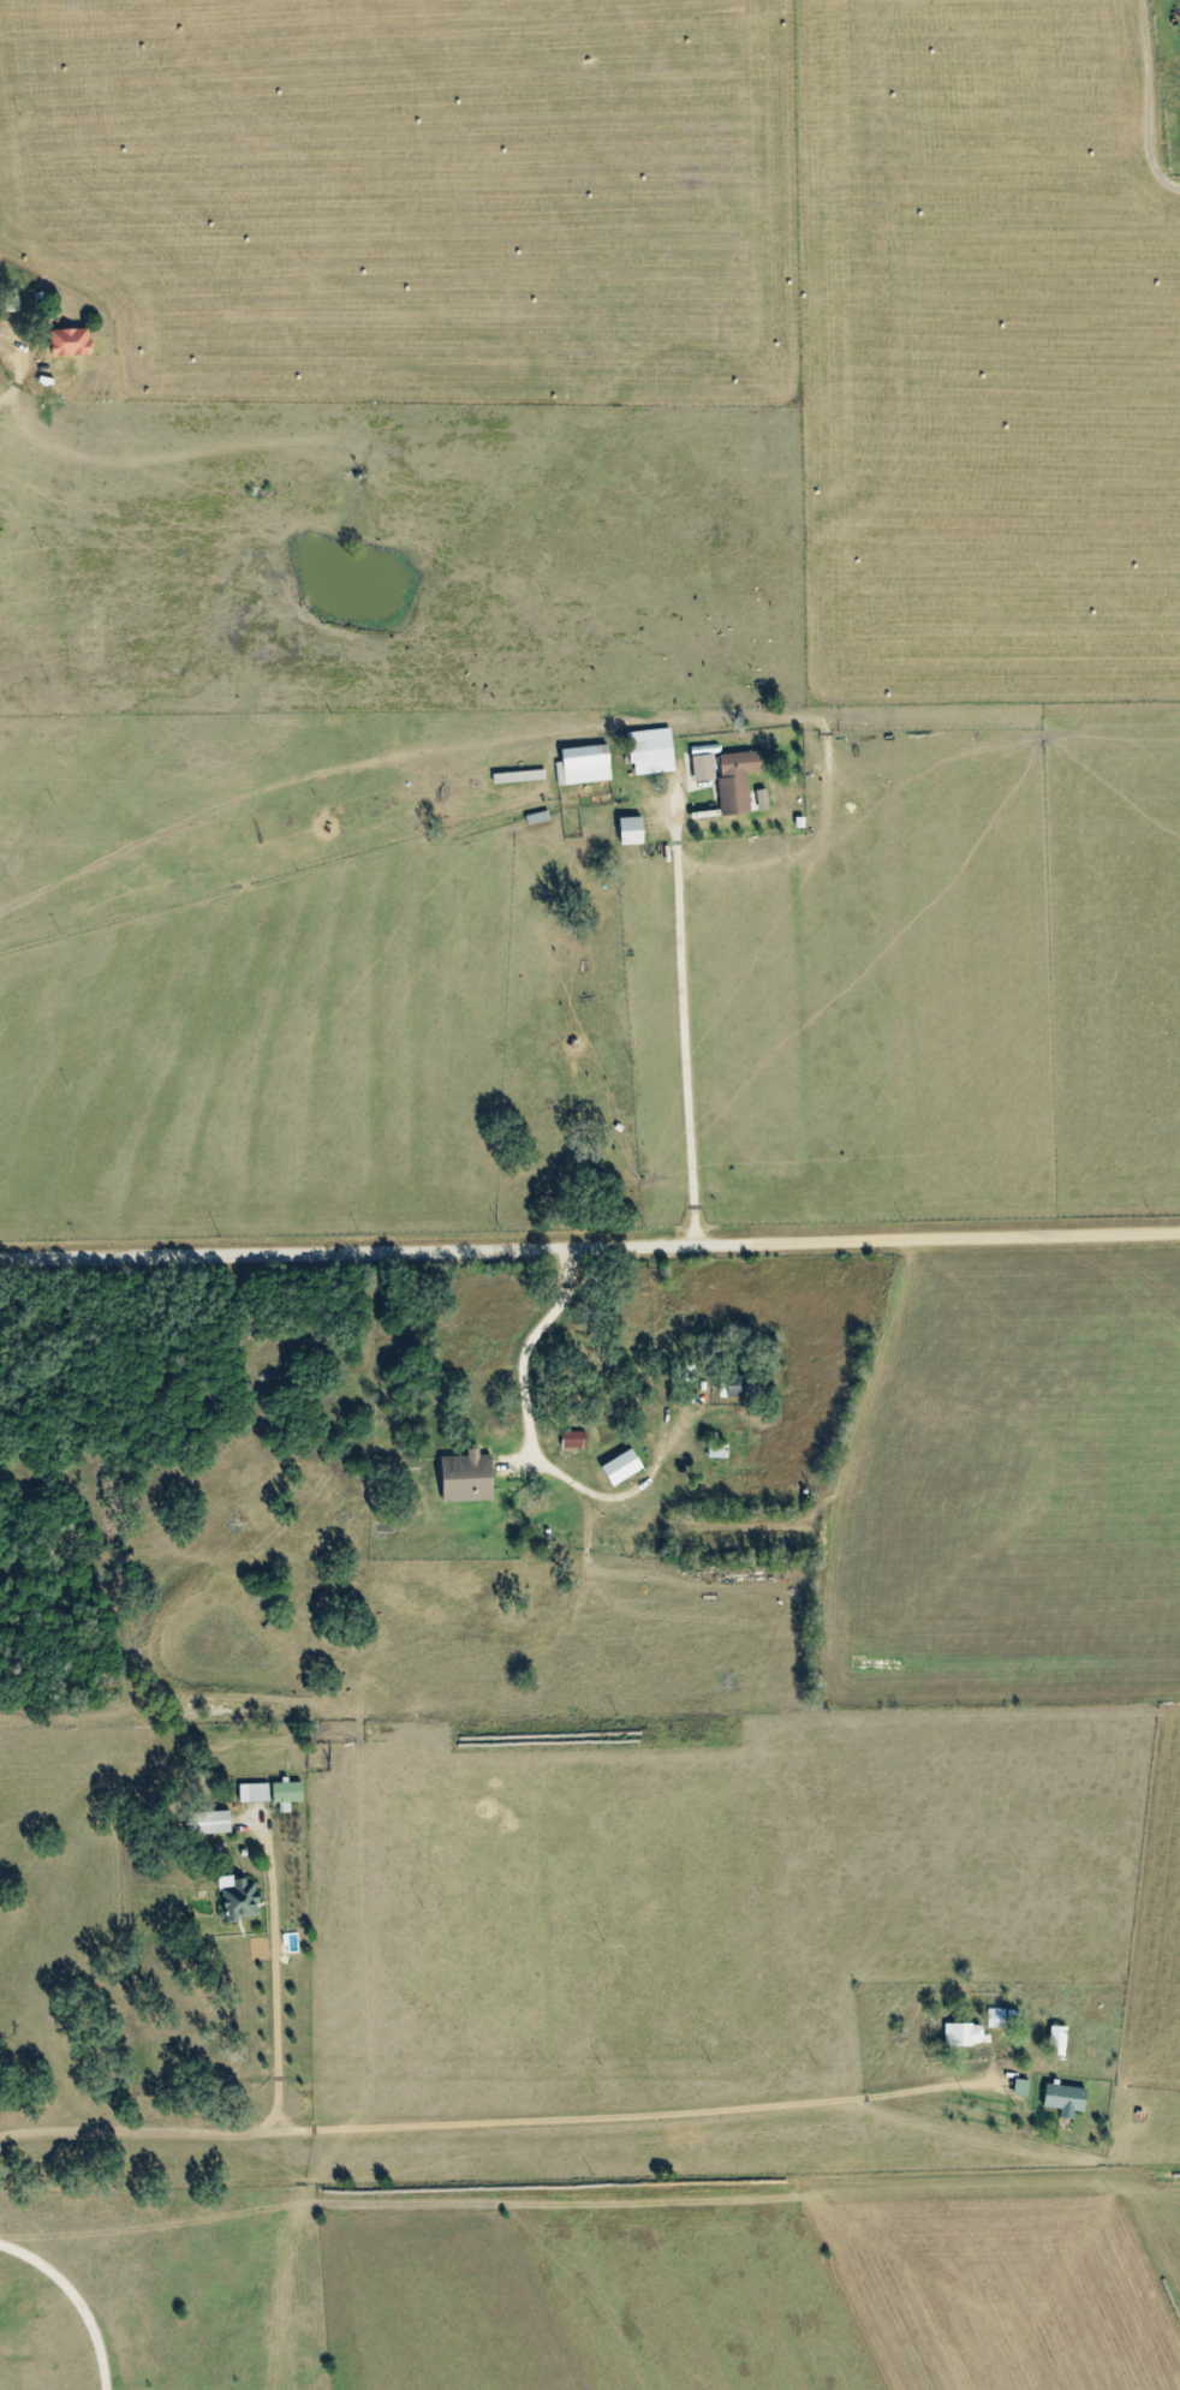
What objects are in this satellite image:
building: (72, 342)
building: (650, 751)
building: (583, 765)
building: (703, 767)
building: (737, 780)
building: (763, 799)
building: (632, 830)
road: (695, 1020)
road: (590, 1242)
road: (525, 1340)
building: (738, 1385)
building: (574, 1438)
building: (622, 1466)
building: (467, 1476)
building: (255, 1792)
building: (287, 1793)
building: (214, 1822)
building: (240, 1897)
building: (999, 2018)
building: (965, 2033)
building: (1057, 2040)
building: (1021, 2087)
building: (1066, 2098)

